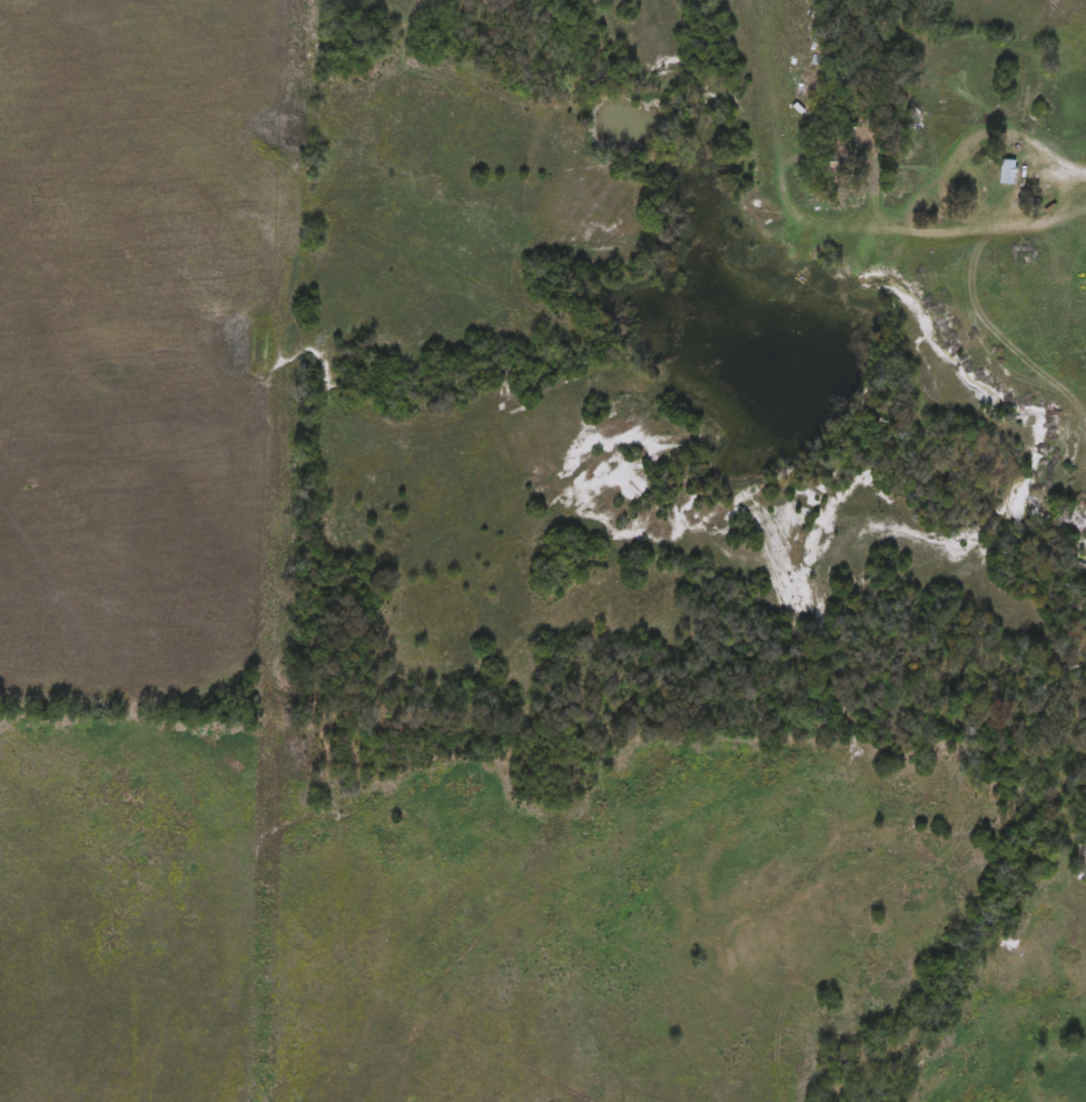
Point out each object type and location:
building: (1009, 173)
building: (1080, 862)

